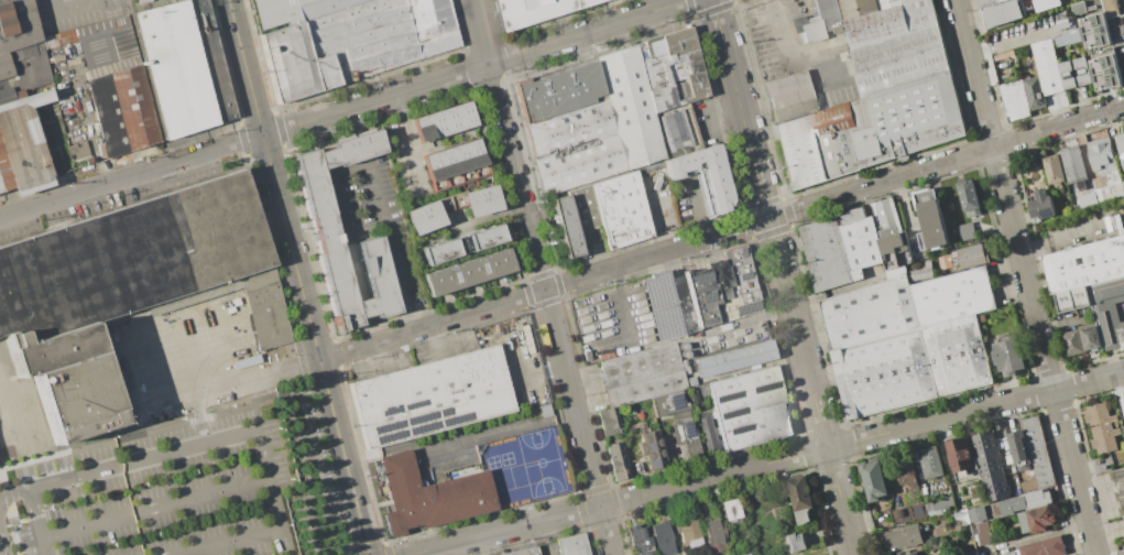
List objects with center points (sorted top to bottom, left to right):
building: (2, 0)
building: (582, 2)
building: (989, 2)
road: (51, 3)
road: (70, 4)
building: (13, 7)
building: (320, 7)
building: (1079, 8)
building: (1113, 8)
building: (1015, 10)
building: (530, 12)
building: (275, 13)
building: (17, 22)
building: (1066, 22)
road: (915, 25)
building: (1116, 30)
road: (873, 31)
building: (377, 36)
road: (830, 37)
building: (19, 39)
building: (1066, 39)
road: (1010, 41)
parking lot: (839, 46)
road: (789, 47)
building: (111, 52)
building: (22, 53)
building: (3, 58)
building: (56, 58)
building: (210, 59)
building: (290, 62)
road: (245, 67)
building: (1047, 67)
building: (173, 68)
road: (474, 68)
building: (6, 70)
building: (673, 70)
road: (852, 72)
building: (1074, 74)
building: (558, 91)
building: (1034, 94)
building: (30, 99)
building: (1015, 99)
road: (496, 102)
building: (137, 107)
building: (630, 107)
road: (740, 108)
building: (108, 115)
building: (466, 116)
building: (906, 119)
building: (451, 120)
building: (832, 120)
building: (437, 123)
building: (424, 128)
building: (569, 128)
building: (676, 131)
building: (1121, 145)
road: (321, 146)
building: (22, 148)
building: (77, 151)
building: (799, 153)
building: (838, 153)
building: (476, 157)
building: (462, 162)
building: (579, 164)
building: (449, 166)
building: (1105, 167)
road: (349, 168)
building: (1073, 168)
building: (1052, 170)
building: (435, 171)
building: (4, 174)
building: (713, 174)
road: (131, 175)
building: (0, 188)
building: (969, 197)
building: (477, 200)
building: (318, 203)
road: (339, 207)
building: (1041, 207)
building: (621, 210)
road: (695, 210)
building: (428, 215)
building: (586, 216)
building: (886, 218)
building: (930, 220)
building: (1114, 225)
building: (567, 227)
building: (964, 231)
road: (721, 232)
building: (482, 238)
road: (1057, 241)
building: (859, 242)
road: (390, 248)
building: (444, 250)
building: (895, 251)
building: (826, 254)
building: (964, 258)
building: (129, 259)
building: (502, 260)
building: (1084, 264)
building: (489, 265)
building: (476, 270)
building: (923, 272)
building: (461, 274)
building: (720, 274)
road: (1025, 276)
building: (447, 277)
building: (434, 283)
building: (217, 291)
road: (359, 293)
building: (952, 296)
building: (1072, 300)
road: (622, 304)
building: (662, 306)
building: (1107, 312)
building: (870, 313)
building: (268, 317)
parking lot: (612, 319)
building: (1091, 338)
building: (1073, 342)
road: (228, 345)
road: (316, 345)
building: (54, 350)
building: (1012, 353)
building: (957, 356)
building: (733, 359)
building: (110, 363)
building: (884, 373)
building: (641, 376)
road: (225, 380)
road: (567, 380)
road: (810, 385)
building: (692, 395)
building: (430, 396)
building: (78, 398)
building: (667, 403)
building: (1123, 404)
building: (750, 409)
building: (609, 422)
building: (1102, 427)
building: (705, 433)
building: (685, 434)
road: (460, 442)
building: (651, 449)
building: (1019, 450)
building: (1038, 451)
building: (962, 459)
building: (618, 460)
building: (931, 463)
road: (765, 464)
road: (128, 465)
building: (990, 466)
building: (906, 471)
building: (874, 480)
building: (1029, 485)
building: (1118, 486)
building: (430, 498)
building: (799, 498)
building: (1025, 502)
road: (153, 507)
building: (730, 509)
building: (931, 510)
building: (918, 512)
building: (898, 514)
building: (976, 514)
building: (1123, 516)
building: (961, 518)
building: (1041, 519)
road: (37, 523)
building: (1025, 523)
building: (688, 526)
road: (270, 527)
building: (713, 533)
building: (982, 533)
building: (663, 537)
building: (903, 537)
building: (644, 540)
building: (634, 541)
building: (795, 542)
building: (572, 545)
building: (1044, 547)
building: (969, 548)
building: (524, 552)
building: (746, 552)
building: (907, 553)
building: (1008, 553)
building: (1121, 553)
building: (695, 554)

